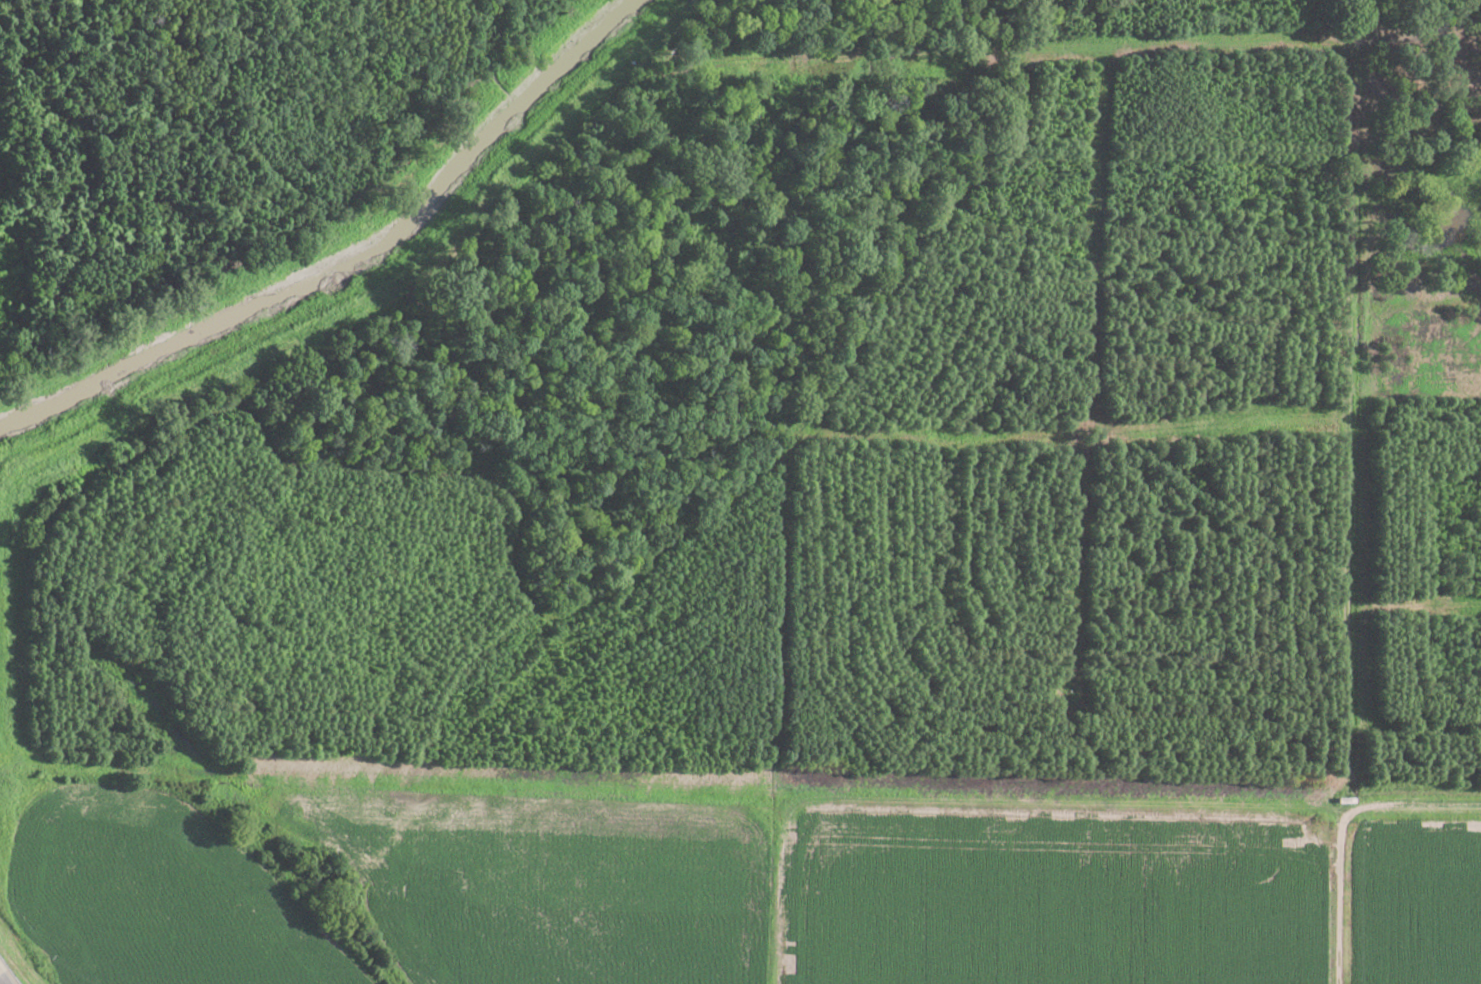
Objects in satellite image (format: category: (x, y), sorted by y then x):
road: (1347, 822)
road: (0, 983)

